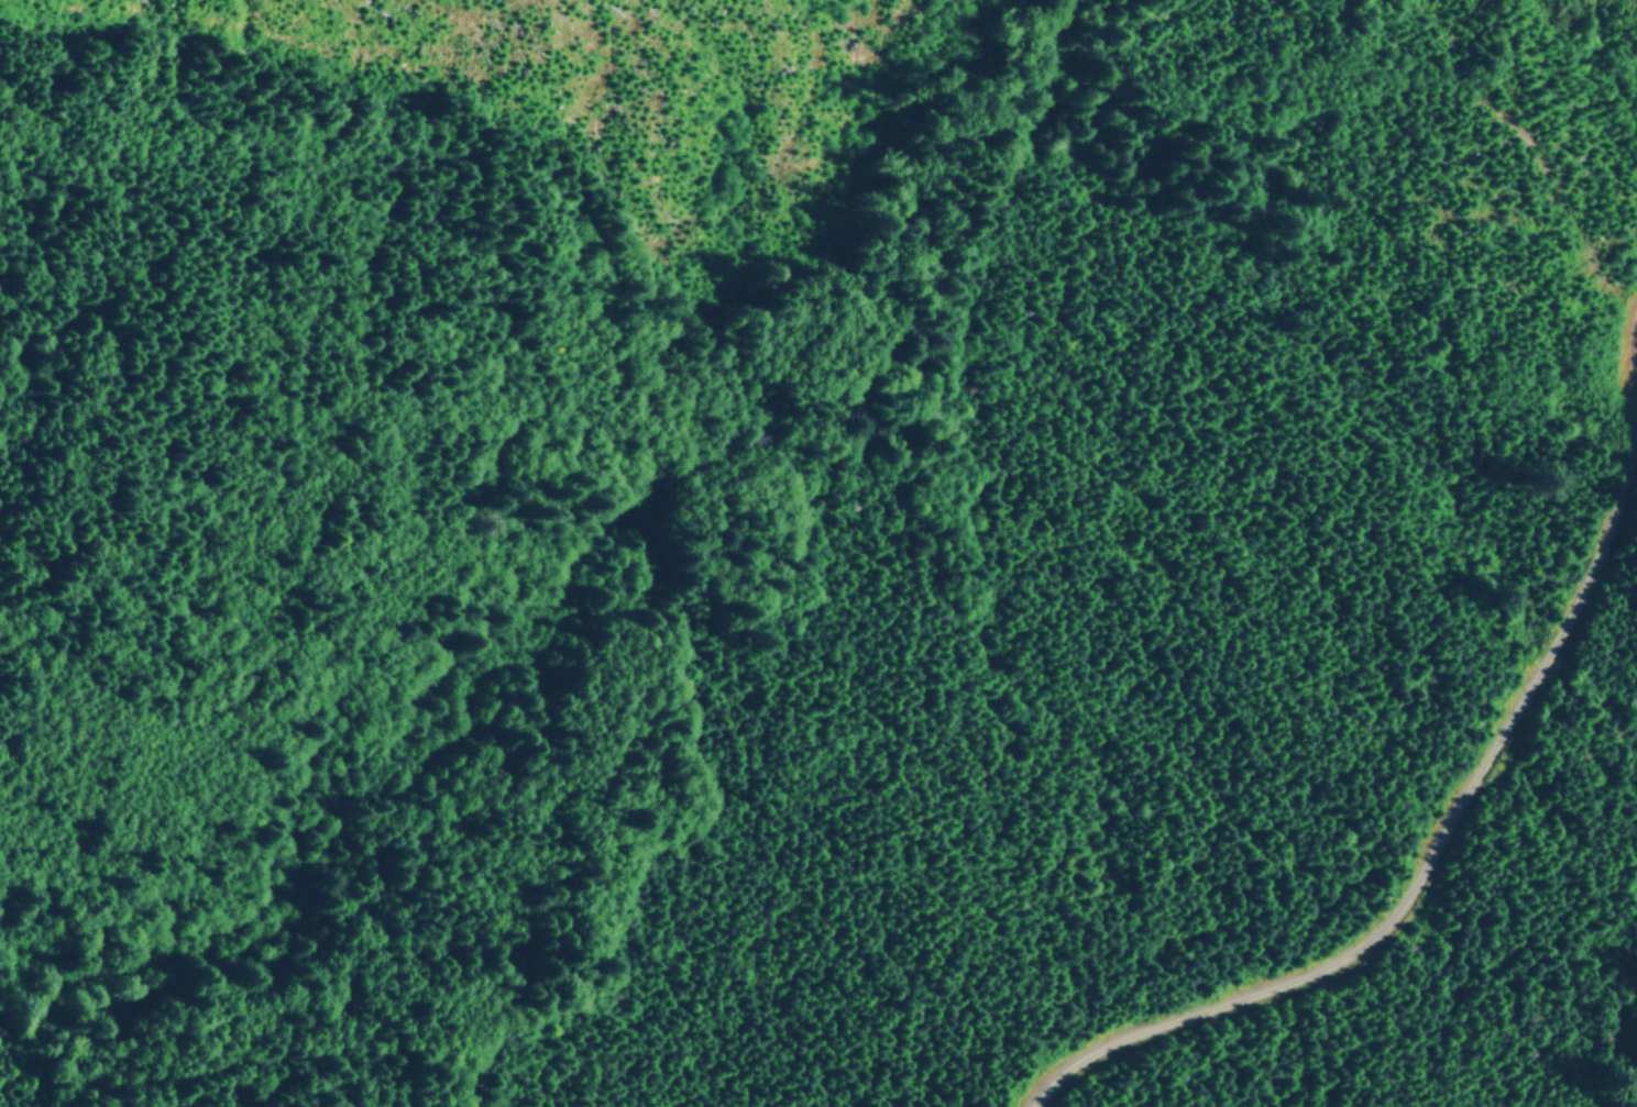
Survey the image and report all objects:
road: (1419, 878)

